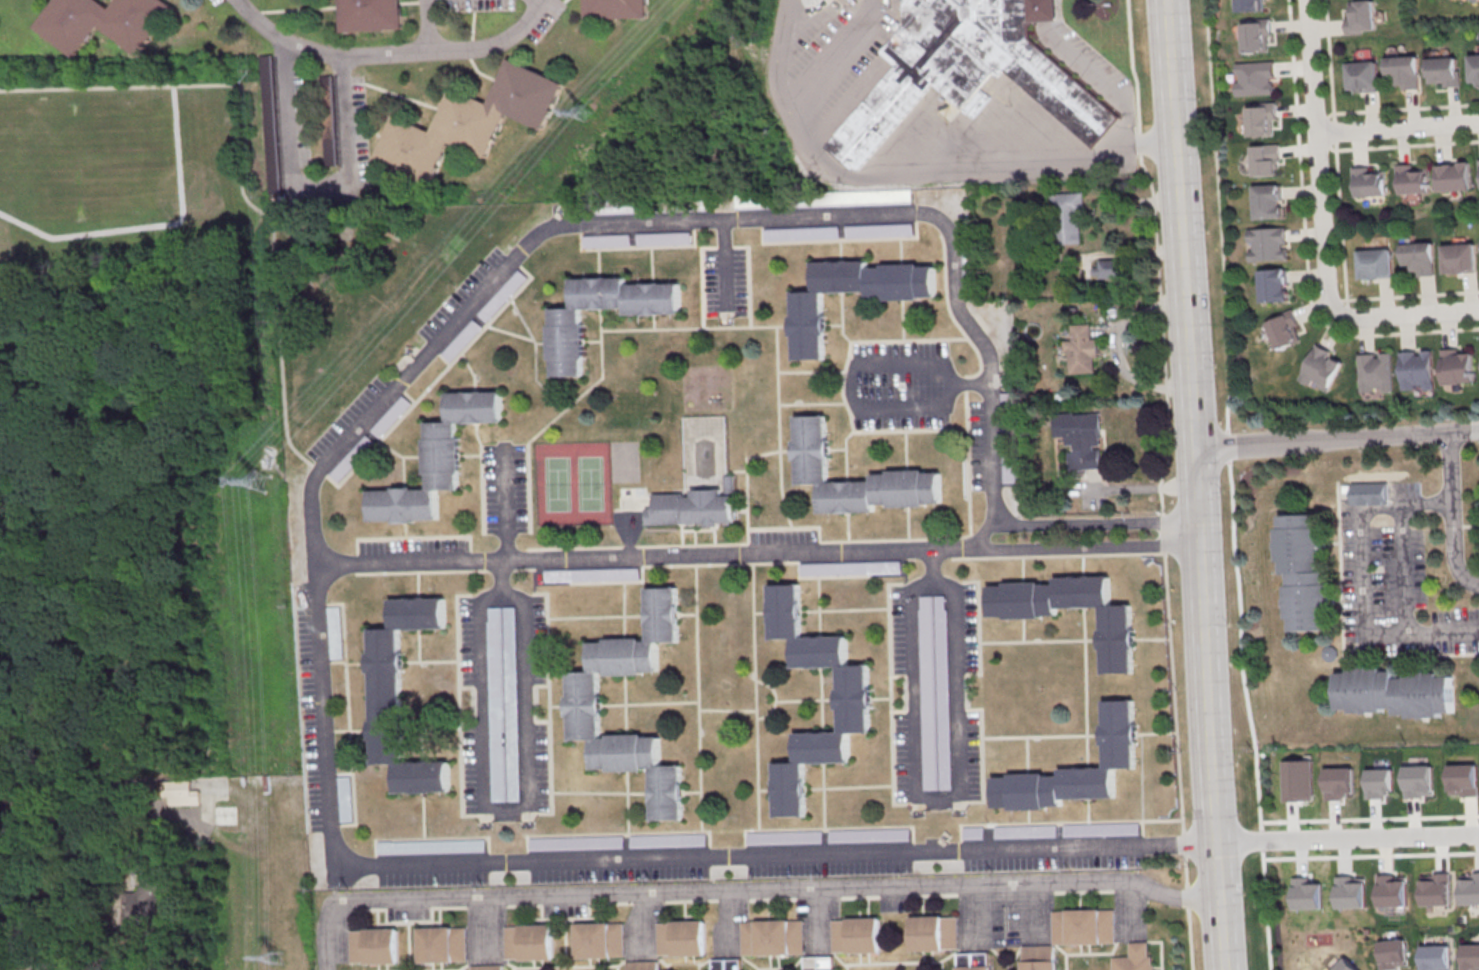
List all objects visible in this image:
building: (1252, 5)
building: (616, 9)
road: (1041, 10)
building: (370, 16)
building: (1360, 17)
building: (104, 24)
road: (423, 26)
building: (1257, 35)
road: (493, 45)
road: (321, 53)
building: (1474, 67)
building: (968, 70)
building: (1402, 71)
building: (1443, 71)
building: (1362, 76)
building: (1255, 78)
road: (1099, 79)
power tower: (580, 112)
building: (1262, 119)
building: (468, 123)
building: (270, 124)
road: (1397, 126)
building: (330, 140)
road: (1407, 145)
road: (1317, 156)
road: (1336, 158)
building: (1265, 160)
road: (907, 170)
road: (245, 172)
building: (1454, 176)
building: (1412, 179)
building: (1368, 182)
road: (309, 185)
road: (1217, 197)
building: (823, 199)
building: (1268, 201)
building: (1066, 219)
building: (879, 230)
building: (801, 232)
building: (663, 237)
building: (605, 240)
road: (1304, 243)
building: (1267, 244)
building: (1418, 257)
building: (1459, 258)
building: (1375, 263)
road: (724, 264)
building: (1109, 268)
parking lot: (723, 282)
building: (1273, 285)
road: (1412, 294)
building: (502, 295)
road: (1407, 314)
building: (808, 329)
building: (1285, 330)
building: (460, 339)
building: (567, 345)
road: (1121, 349)
building: (1082, 352)
building: (1457, 365)
building: (1322, 368)
road: (930, 369)
building: (1417, 369)
building: (1375, 372)
parking lot: (899, 385)
park: (698, 392)
building: (1006, 401)
road: (909, 403)
building: (390, 416)
building: (1082, 438)
road: (1336, 438)
building: (811, 444)
building: (351, 457)
building: (437, 459)
building: (1008, 466)
road: (1160, 482)
power tower: (255, 483)
park: (573, 483)
road: (1196, 484)
parking lot: (504, 488)
building: (1369, 493)
building: (677, 506)
road: (503, 510)
road: (1453, 516)
road: (1082, 524)
road: (1087, 548)
road: (644, 557)
building: (850, 567)
building: (1302, 572)
building: (592, 575)
road: (500, 576)
road: (1365, 577)
road: (312, 580)
road: (1404, 582)
building: (334, 632)
building: (1116, 646)
building: (927, 692)
building: (943, 692)
building: (1394, 692)
building: (400, 695)
building: (853, 699)
building: (584, 702)
building: (496, 704)
building: (510, 704)
building: (1075, 769)
building: (1463, 779)
building: (1418, 780)
building: (1337, 782)
building: (1378, 782)
building: (181, 797)
road: (919, 798)
building: (344, 799)
road: (96, 803)
road: (509, 813)
road: (1350, 818)
building: (1101, 828)
building: (1025, 831)
building: (869, 835)
building: (784, 836)
road: (1348, 837)
building: (668, 840)
building: (575, 842)
building: (431, 846)
road: (1370, 855)
road: (51, 877)
building: (1435, 889)
building: (1469, 889)
road: (775, 890)
building: (1391, 891)
building: (1351, 892)
building: (1307, 893)
building: (143, 905)
road: (1265, 914)
building: (1084, 927)
building: (934, 933)
building: (856, 935)
road: (321, 937)
building: (773, 937)
building: (681, 938)
building: (600, 940)
building: (528, 942)
building: (442, 944)
building: (374, 945)
building: (1038, 957)
building: (1134, 958)
building: (1471, 958)
power tower: (273, 959)
building: (1435, 959)
building: (725, 964)
building: (642, 965)
building: (487, 967)
building: (974, 967)
building: (825, 969)

